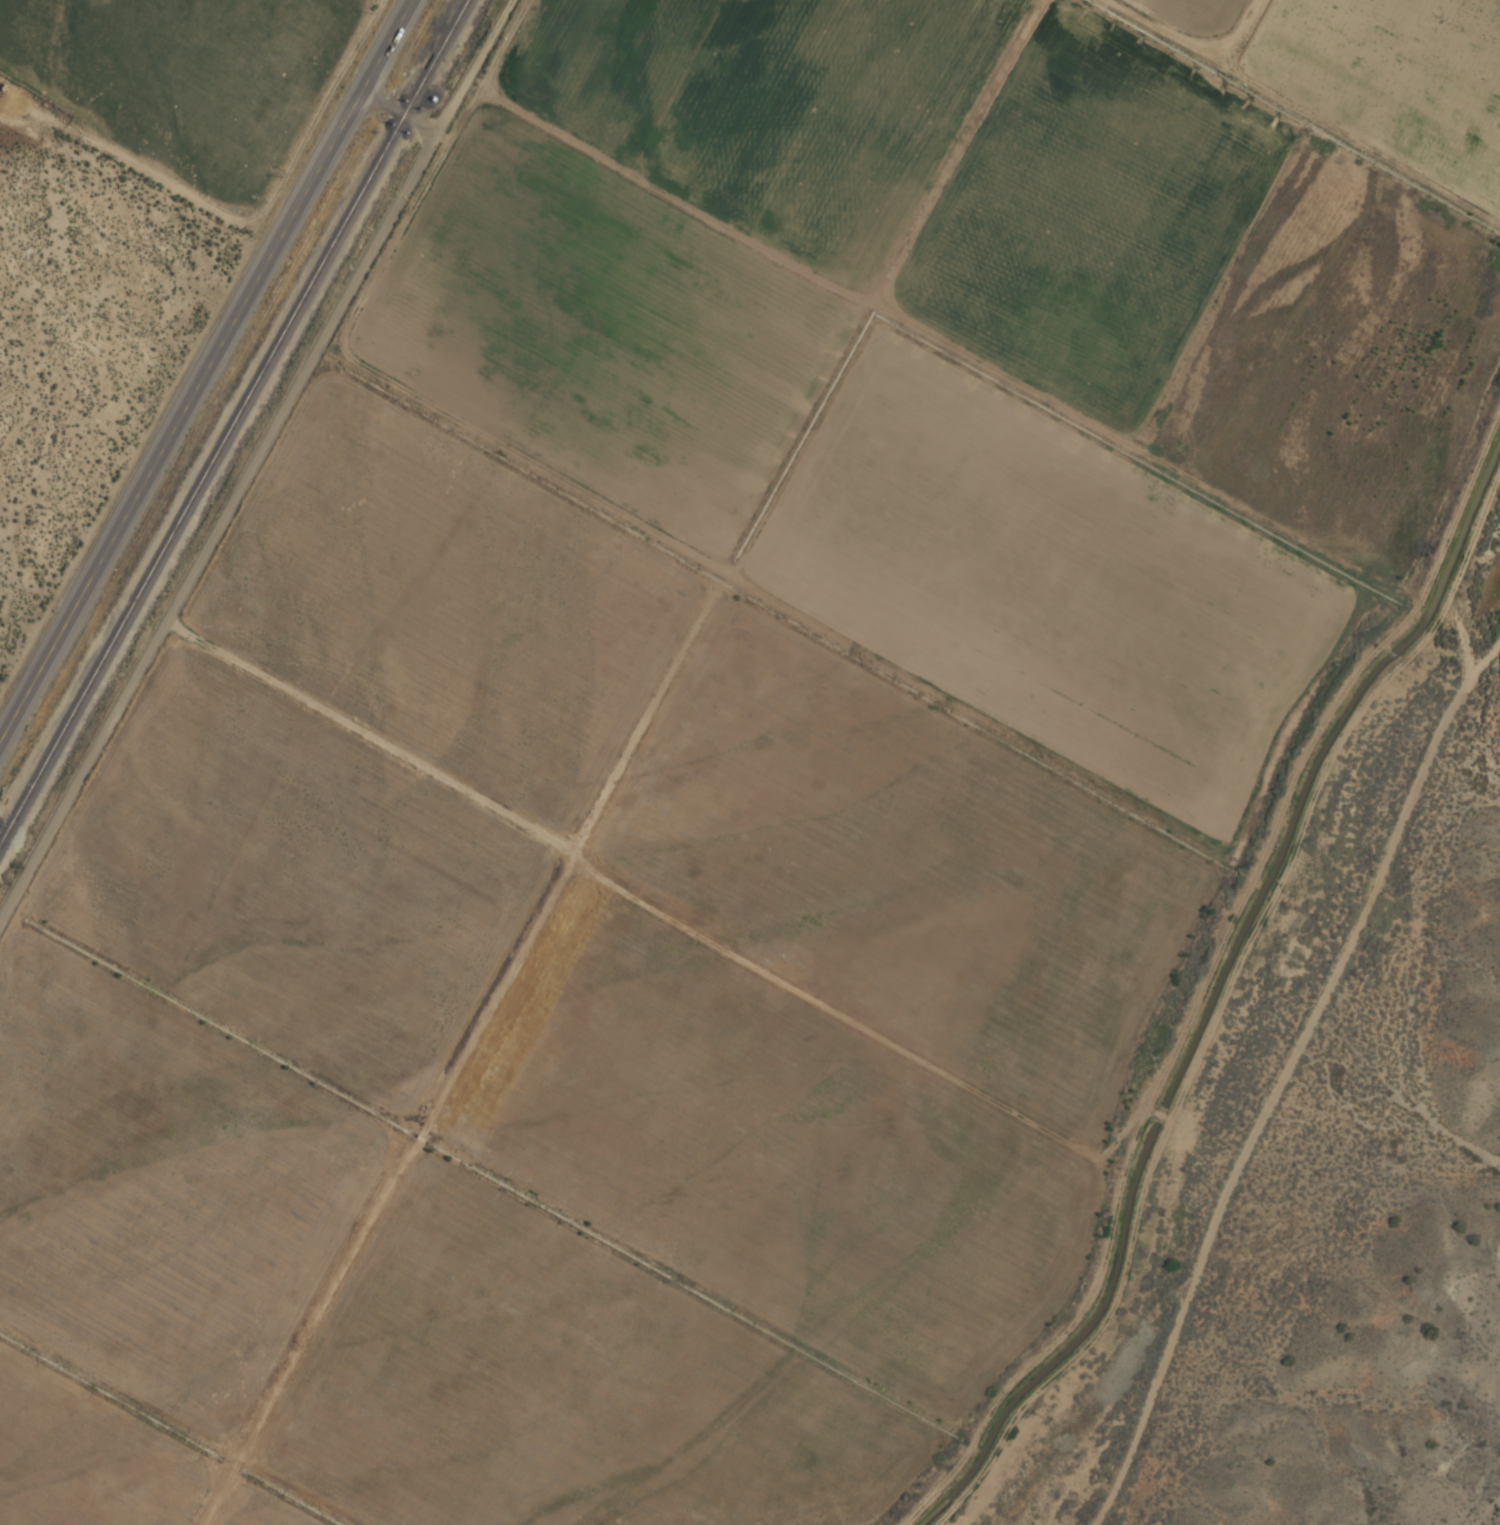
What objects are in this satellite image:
road: (204, 369)
railway: (233, 422)
road: (257, 467)
road: (1282, 1078)

